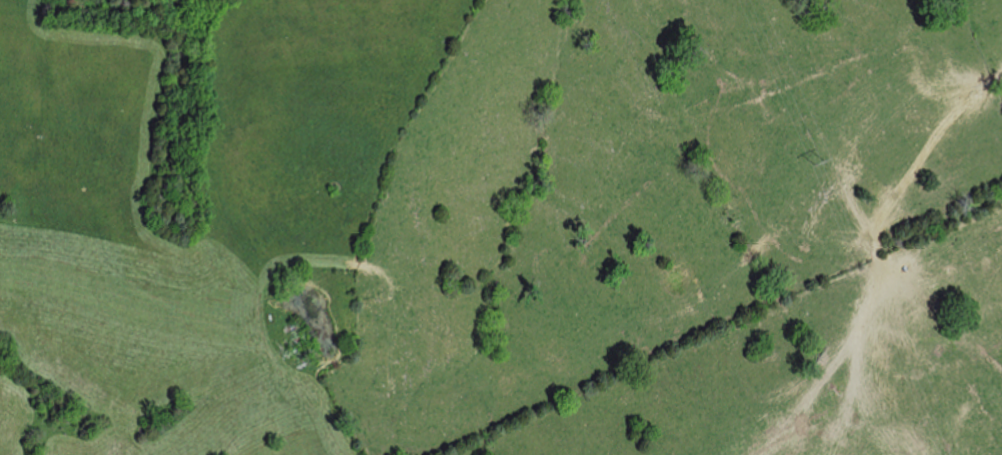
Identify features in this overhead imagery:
power tower: (823, 163)

